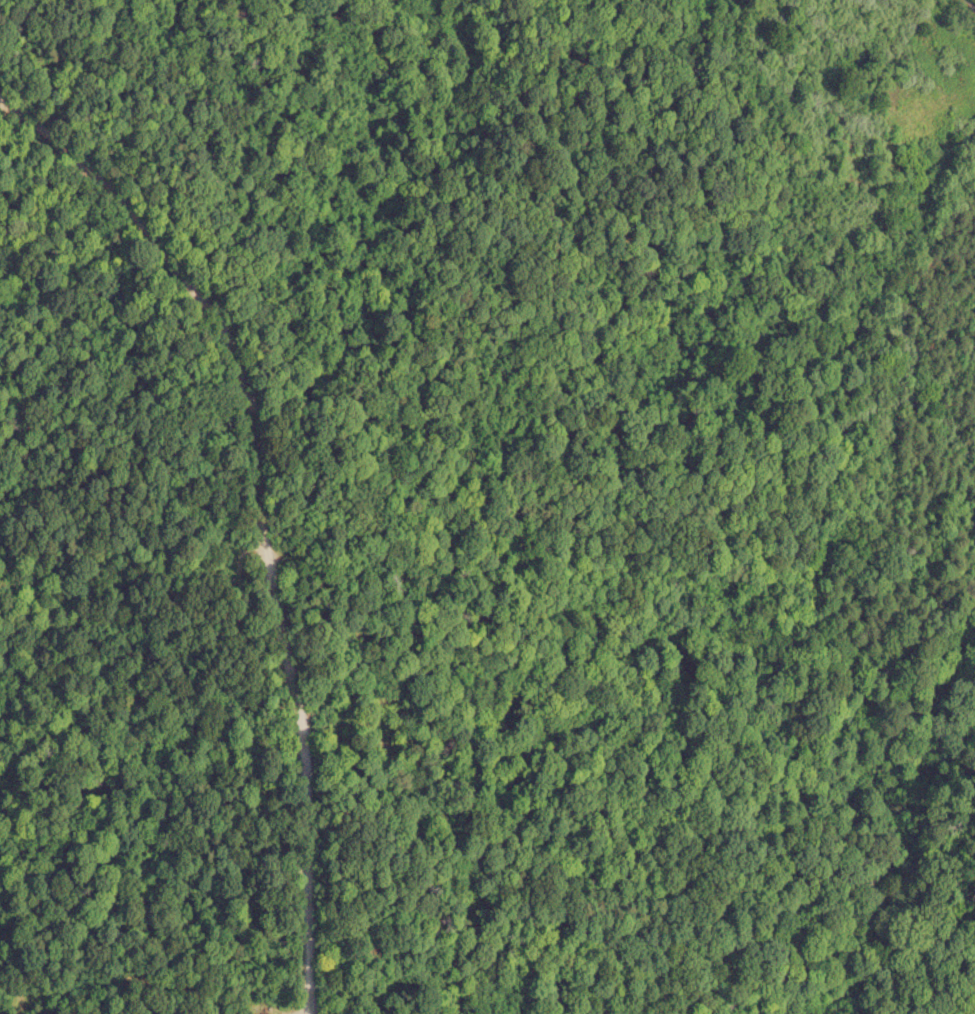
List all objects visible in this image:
road: (275, 527)

